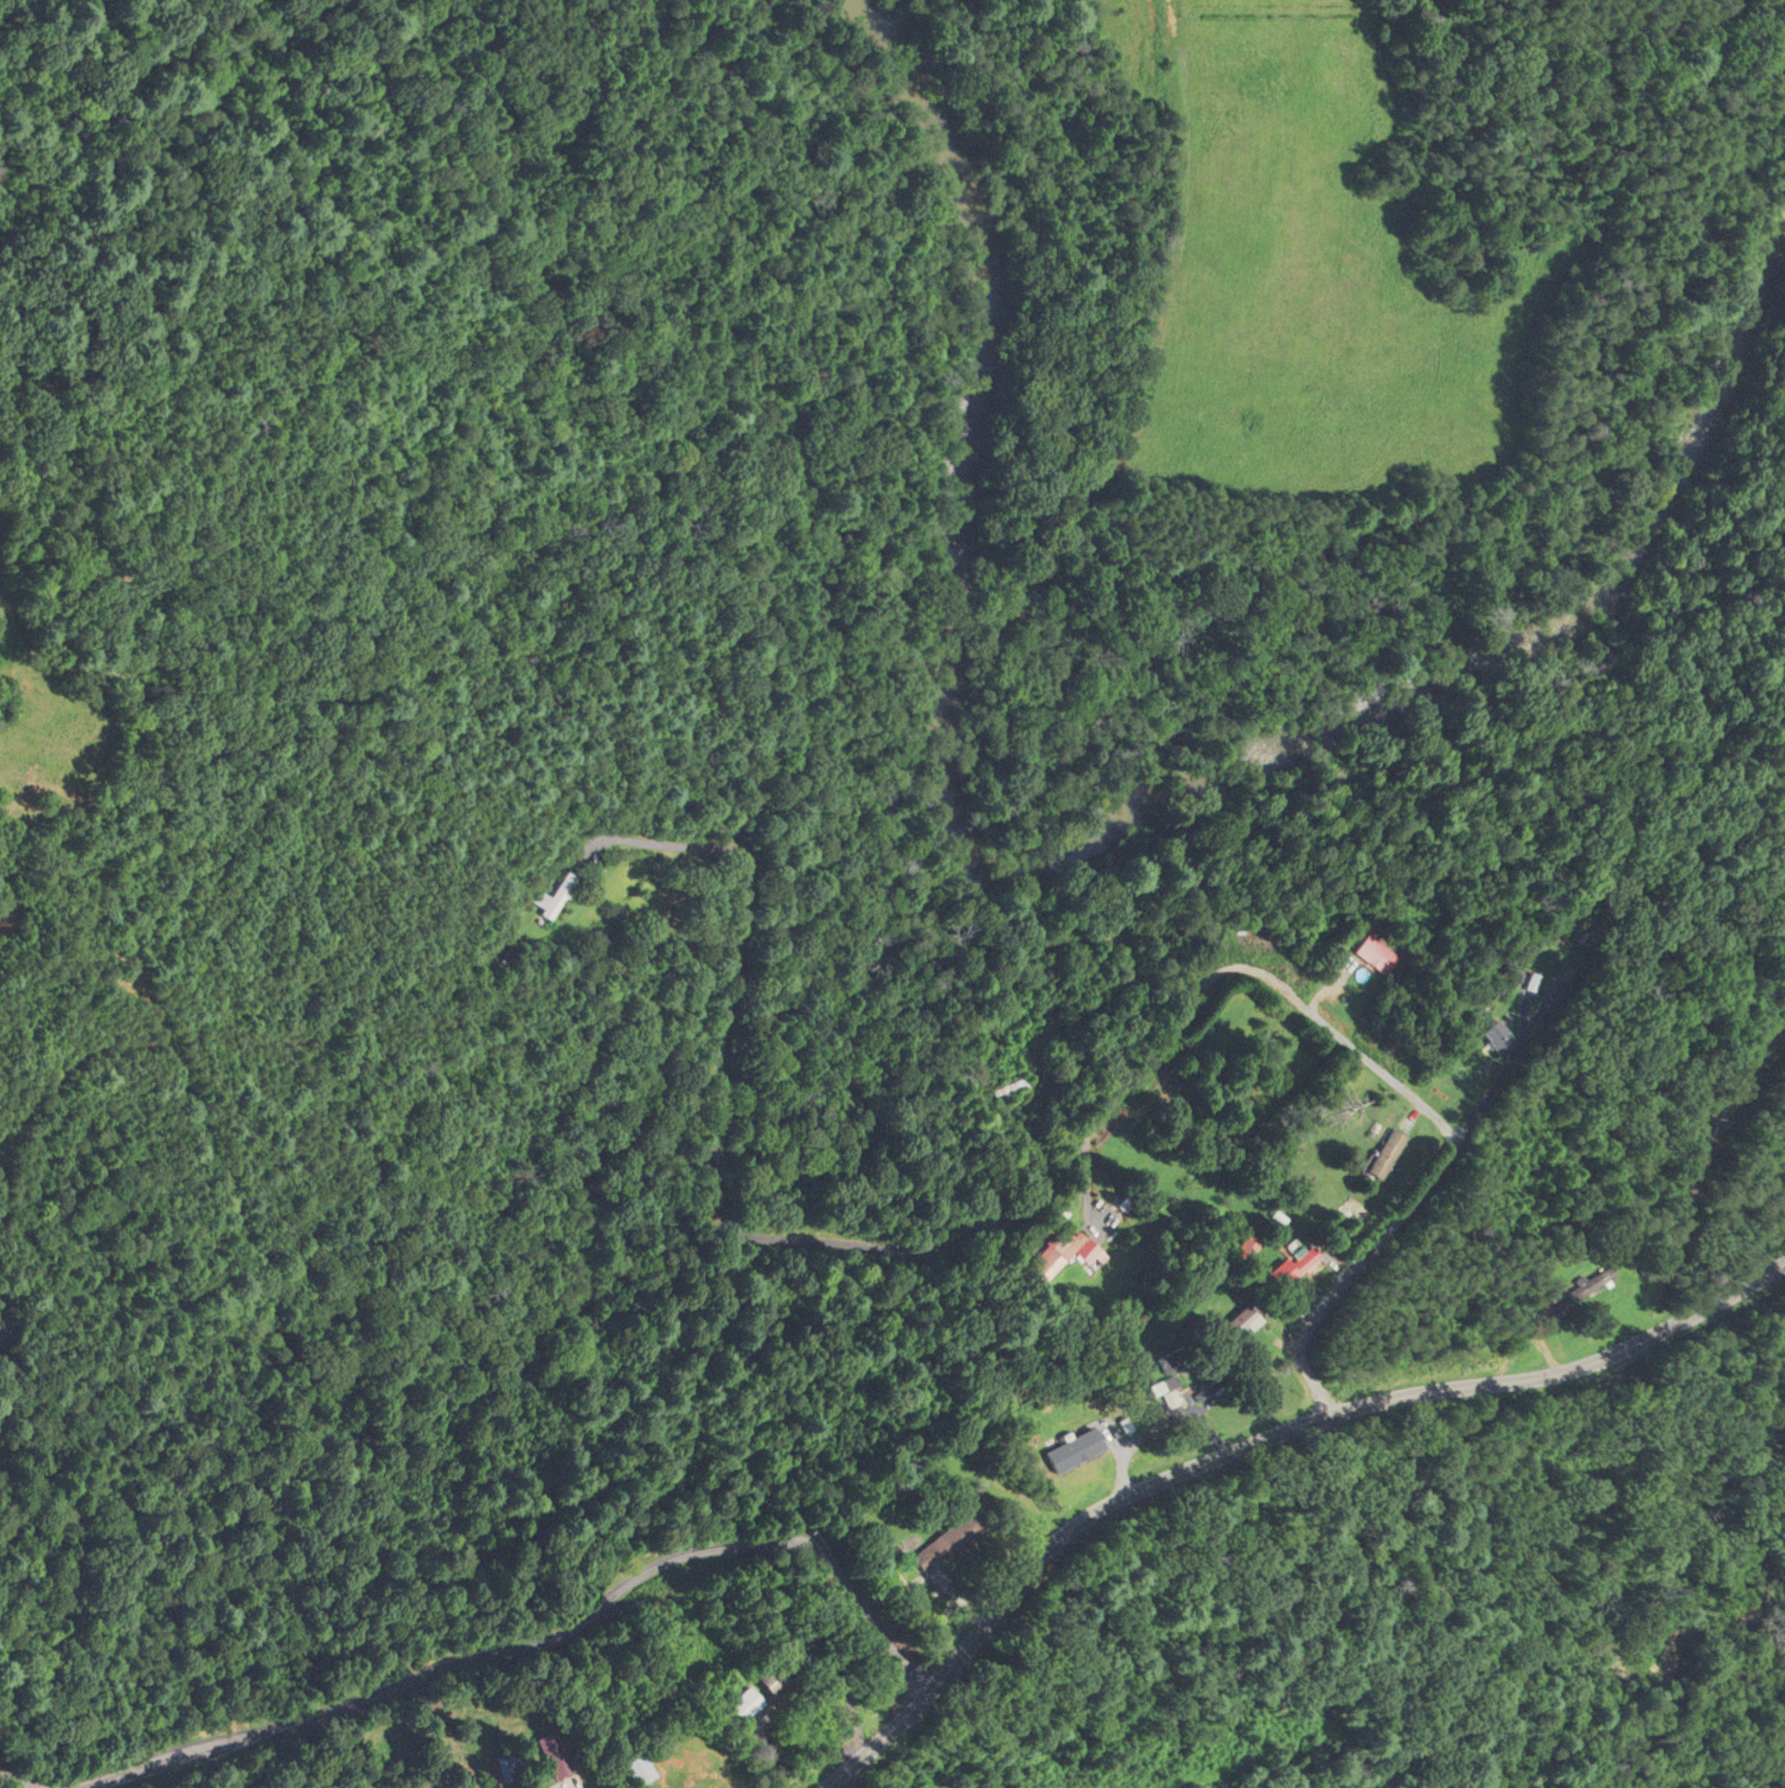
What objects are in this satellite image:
building: (654, 24)
river: (1064, 861)
building: (557, 899)
building: (1376, 956)
road: (1175, 1026)
building: (1493, 1036)
building: (1015, 1090)
road: (1407, 1091)
road: (1077, 1154)
building: (1382, 1154)
building: (1242, 1251)
building: (1054, 1257)
building: (1293, 1264)
building: (1589, 1284)
building: (1240, 1321)
building: (1175, 1360)
building: (1166, 1391)
road: (1256, 1442)
building: (948, 1543)
building: (780, 1643)
road: (542, 1645)
building: (772, 1681)
road: (845, 1694)
building: (743, 1706)
building: (554, 1755)
building: (513, 1762)
building: (634, 1770)
road: (20, 1779)

